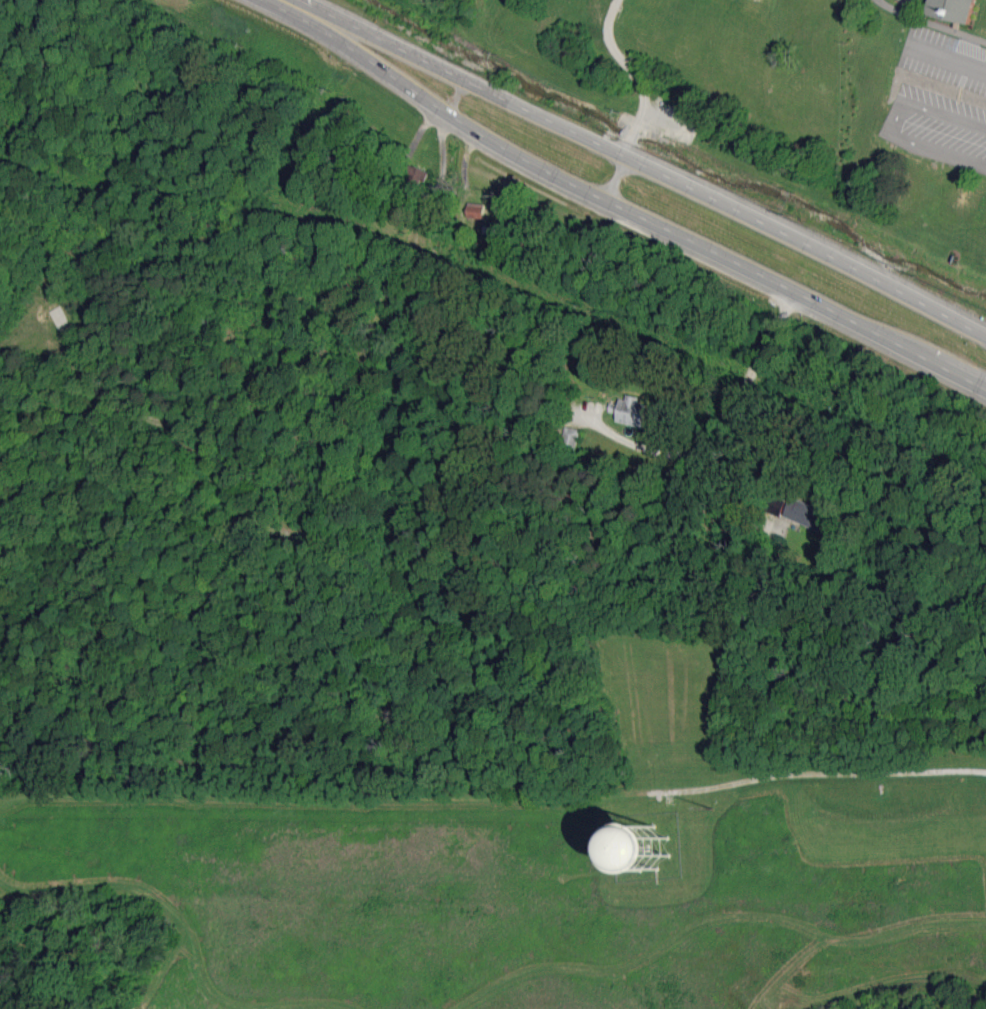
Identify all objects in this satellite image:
building: (952, 9)
road: (930, 23)
road: (950, 58)
road: (634, 73)
road: (892, 123)
road: (644, 163)
road: (615, 177)
road: (624, 208)
building: (475, 210)
building: (631, 411)
road: (721, 422)
building: (570, 438)
road: (327, 464)
road: (718, 509)
building: (807, 513)
road: (783, 776)
road: (3, 794)
road: (289, 797)
building: (646, 848)
water tower: (650, 851)
road: (151, 885)
road: (708, 923)
road: (789, 970)
road: (887, 987)
road: (245, 1001)

